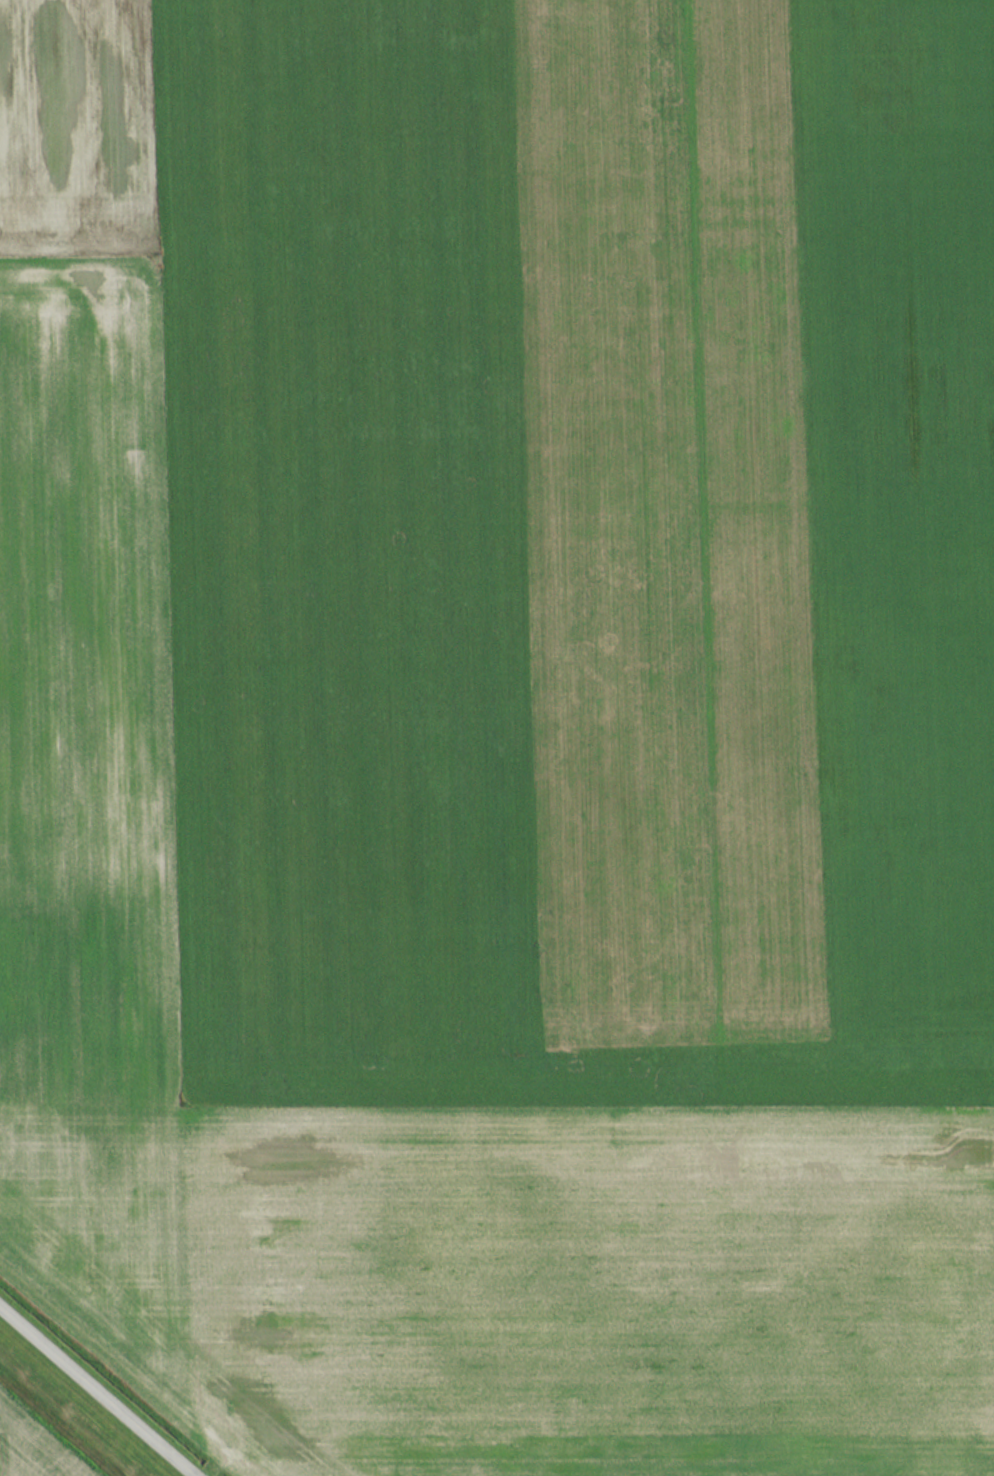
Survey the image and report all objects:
crop: (76, 130)
crop: (517, 741)
road: (98, 1390)
railway: (56, 1427)
crop: (45, 1434)

